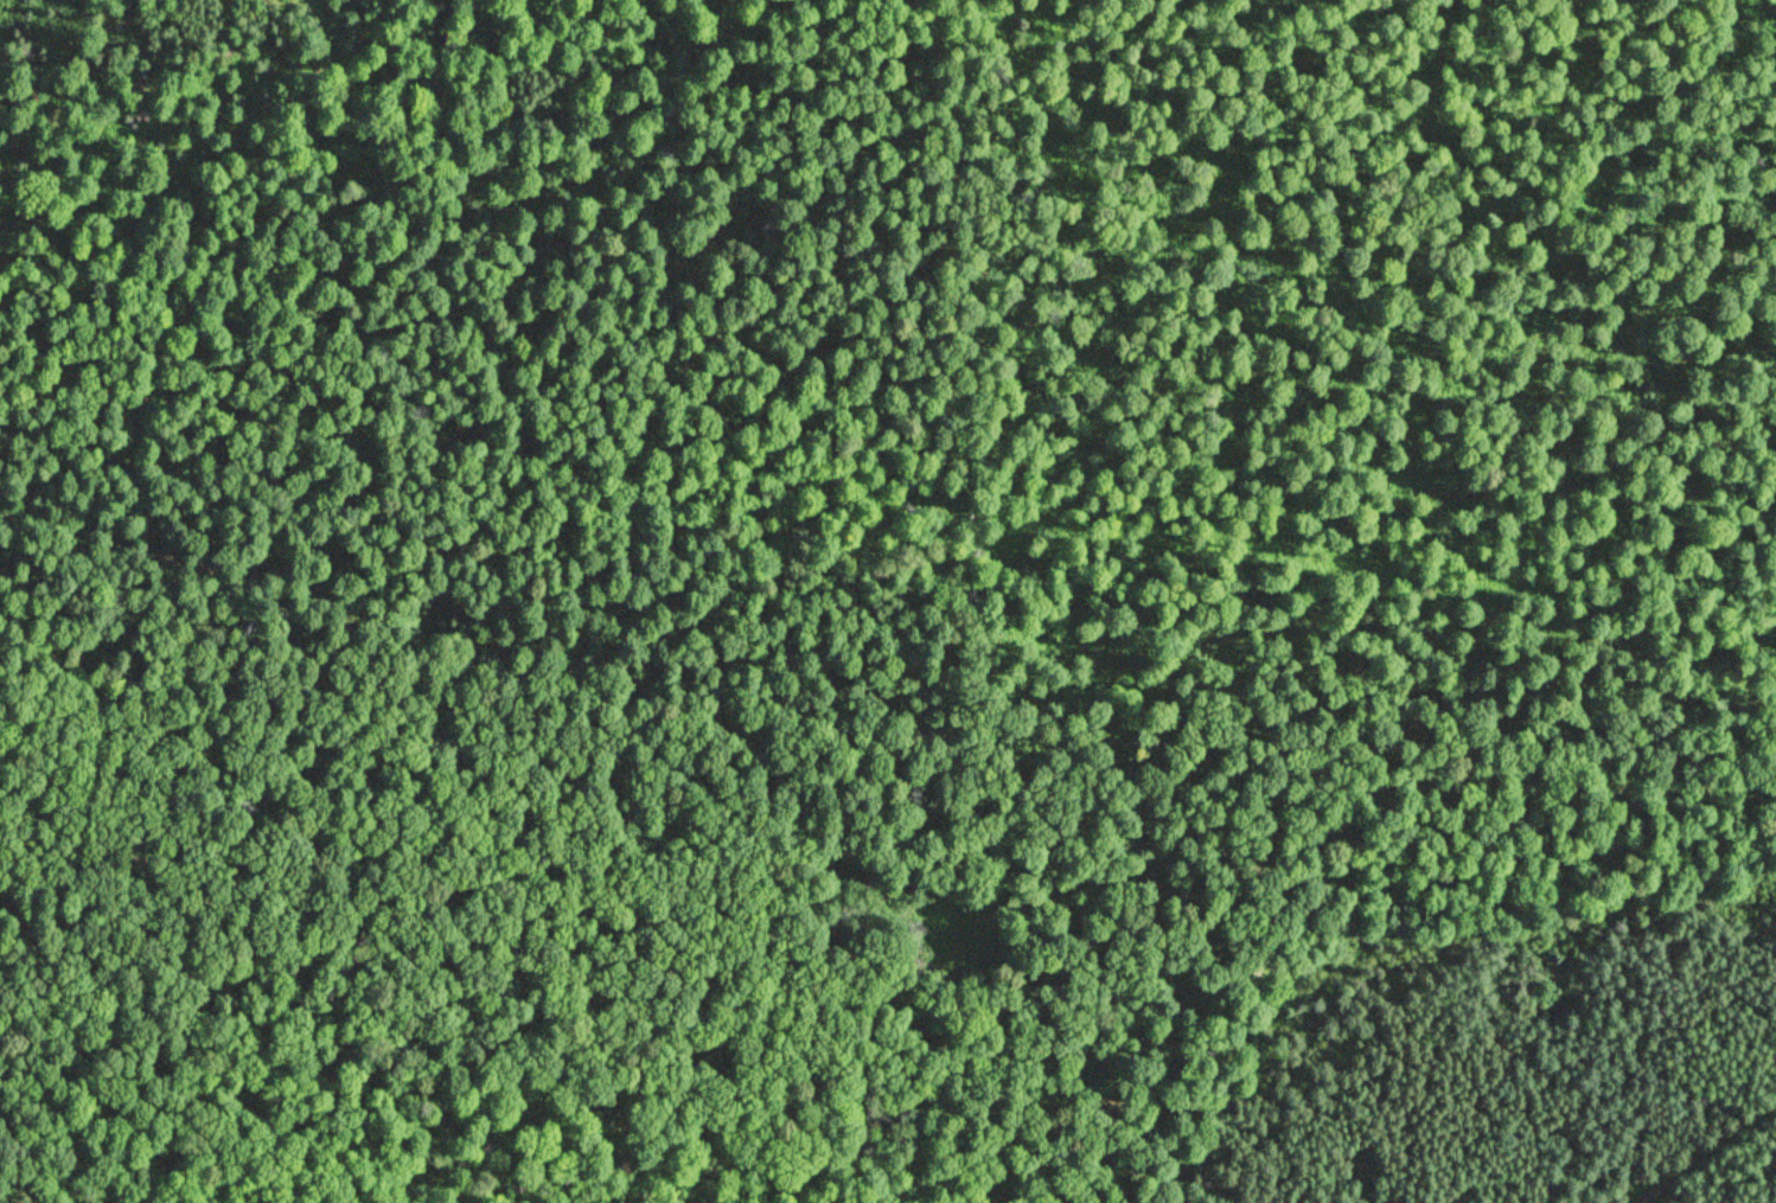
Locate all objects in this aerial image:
road: (1708, 1150)

